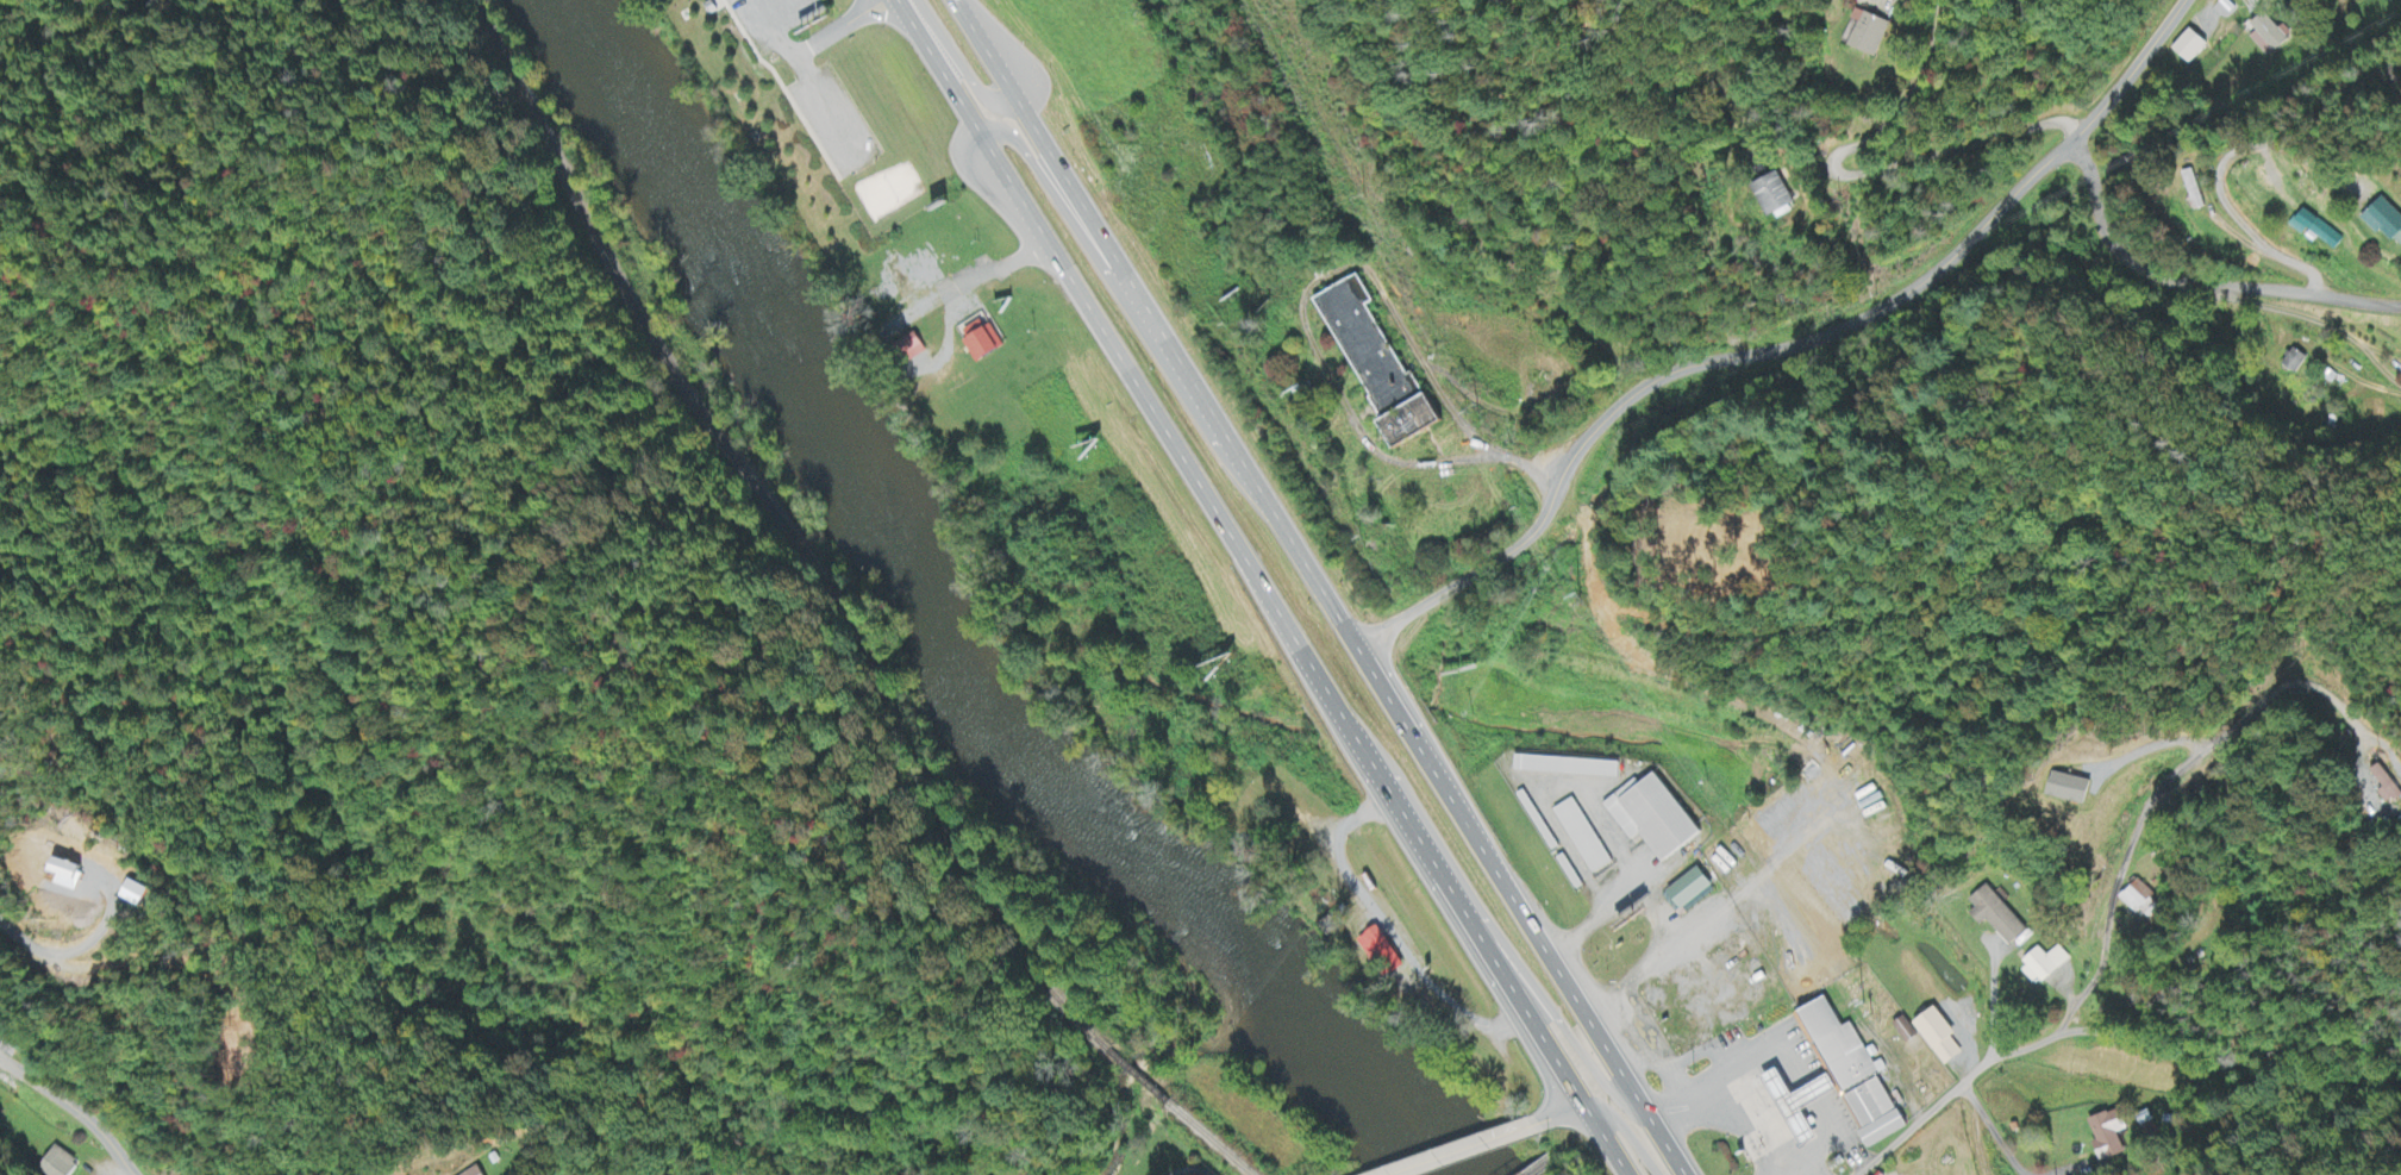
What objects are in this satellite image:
building: (709, 5)
road: (836, 30)
building: (1868, 35)
building: (2269, 36)
building: (2188, 48)
road: (1988, 73)
road: (801, 81)
road: (1006, 96)
park: (812, 121)
park: (812, 121)
road: (1044, 182)
park: (882, 190)
building: (1775, 196)
road: (2240, 221)
building: (2387, 223)
building: (2319, 232)
road: (2114, 243)
road: (2311, 294)
road: (2318, 320)
river: (776, 331)
building: (982, 339)
road: (1782, 343)
building: (914, 349)
building: (2296, 362)
building: (1382, 367)
railway: (787, 525)
road: (1237, 551)
road: (1318, 587)
building: (1569, 768)
building: (2389, 783)
building: (2069, 788)
road: (2152, 794)
river: (1103, 817)
building: (1657, 818)
building: (1584, 837)
building: (69, 875)
building: (1693, 889)
building: (137, 895)
building: (2140, 902)
building: (1996, 915)
building: (1381, 950)
building: (2043, 967)
road: (1533, 985)
building: (1907, 1031)
building: (1942, 1038)
road: (2231, 1061)
river: (1359, 1065)
railway: (1138, 1075)
building: (1858, 1076)
road: (1952, 1090)
building: (1802, 1105)
road: (73, 1110)
road: (1559, 1112)
road: (1627, 1129)
building: (2108, 1136)
railway: (1211, 1138)
road: (1603, 1138)
road: (1461, 1148)
building: (58, 1164)
road: (1540, 1164)
building: (476, 1171)

